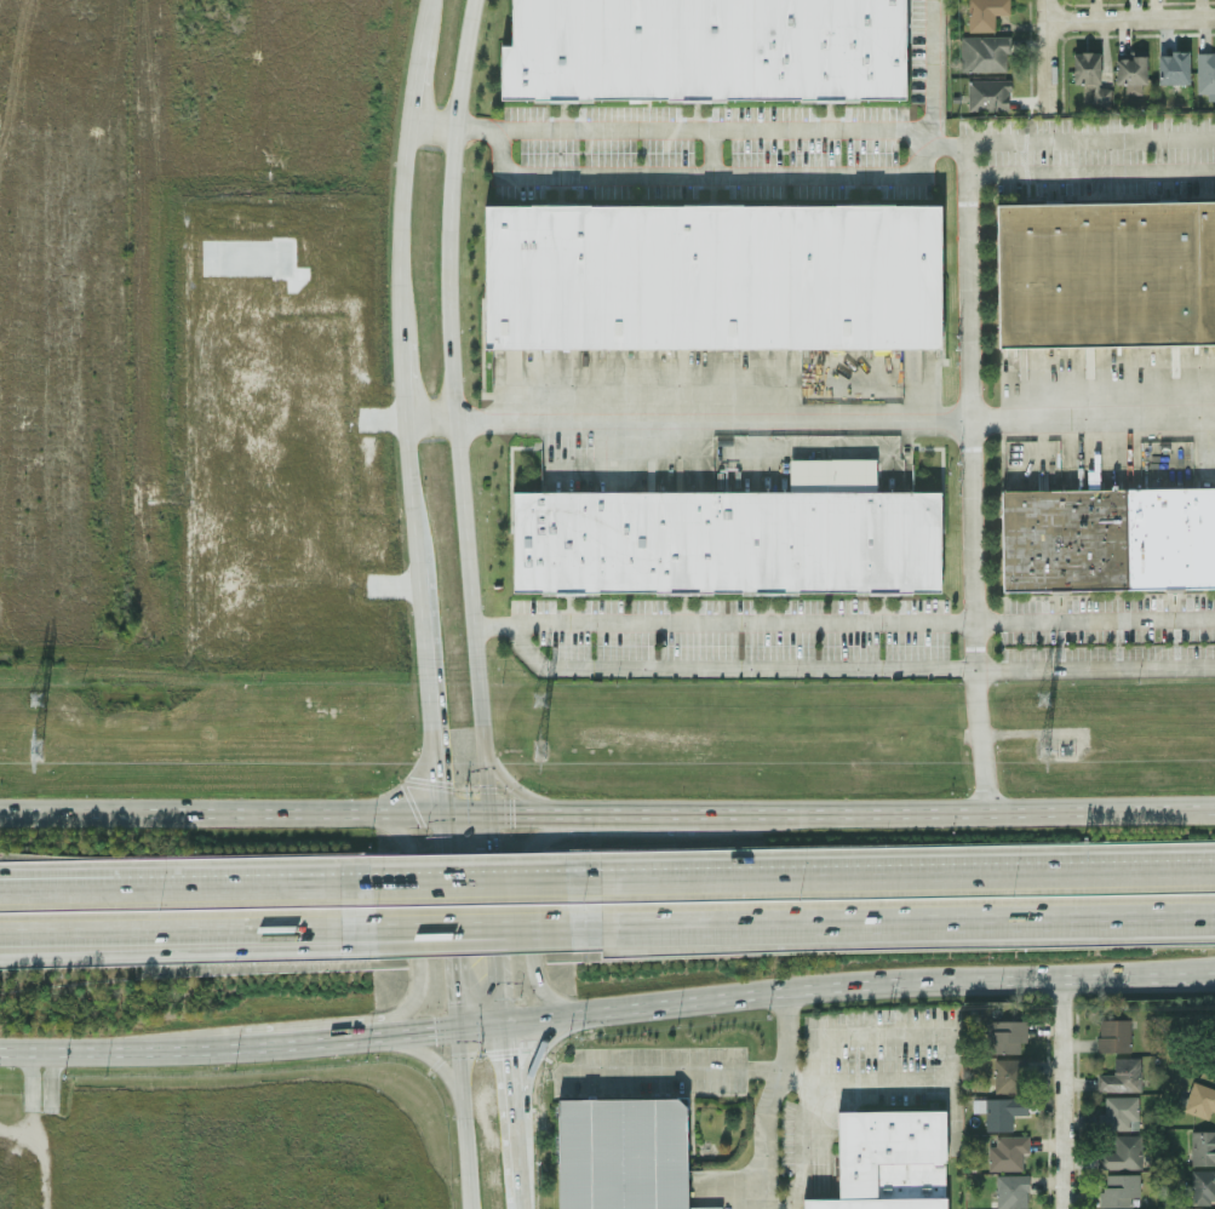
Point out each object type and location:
road: (1042, 8)
building: (982, 13)
road: (1128, 16)
road: (424, 21)
building: (705, 50)
building: (982, 55)
road: (1044, 61)
building: (1085, 68)
building: (1171, 68)
building: (1128, 69)
road: (929, 70)
building: (1205, 73)
road: (413, 82)
building: (986, 94)
road: (429, 125)
road: (1090, 150)
road: (401, 224)
road: (967, 224)
building: (1106, 270)
building: (713, 273)
road: (402, 373)
road: (452, 406)
road: (429, 416)
road: (712, 417)
road: (1094, 420)
building: (726, 539)
building: (1108, 539)
road: (422, 615)
road: (843, 623)
power tower: (1041, 698)
power tower: (35, 699)
power tower: (538, 699)
power tower: (1042, 751)
power tower: (537, 752)
power tower: (38, 754)
traffic signals: (436, 780)
road: (510, 791)
road: (273, 813)
traffic signals: (512, 813)
road: (618, 813)
road: (952, 813)
traffic signals: (493, 838)
road: (907, 875)
road: (35, 879)
road: (469, 879)
road: (225, 881)
road: (35, 882)
road: (92, 882)
road: (413, 910)
road: (499, 918)
road: (906, 919)
road: (447, 921)
road: (558, 923)
road: (532, 924)
road: (428, 926)
road: (170, 930)
road: (428, 935)
road: (168, 952)
road: (1185, 969)
road: (1185, 974)
road: (778, 991)
traffic signals: (453, 1001)
traffic signals: (435, 1031)
building: (1112, 1036)
building: (1007, 1037)
road: (322, 1038)
road: (945, 1038)
road: (121, 1052)
road: (432, 1054)
road: (35, 1056)
traffic signals: (510, 1060)
road: (529, 1066)
road: (680, 1066)
building: (1008, 1076)
building: (1119, 1077)
road: (511, 1082)
road: (50, 1090)
road: (1061, 1093)
road: (36, 1096)
road: (767, 1099)
building: (1199, 1101)
building: (1002, 1112)
building: (1119, 1113)
road: (460, 1119)
road: (800, 1129)
road: (22, 1145)
building: (1202, 1148)
building: (1005, 1153)
building: (1122, 1153)
road: (516, 1154)
building: (619, 1154)
building: (889, 1161)
building: (1202, 1187)
road: (518, 1190)
building: (1117, 1191)
building: (1008, 1192)

